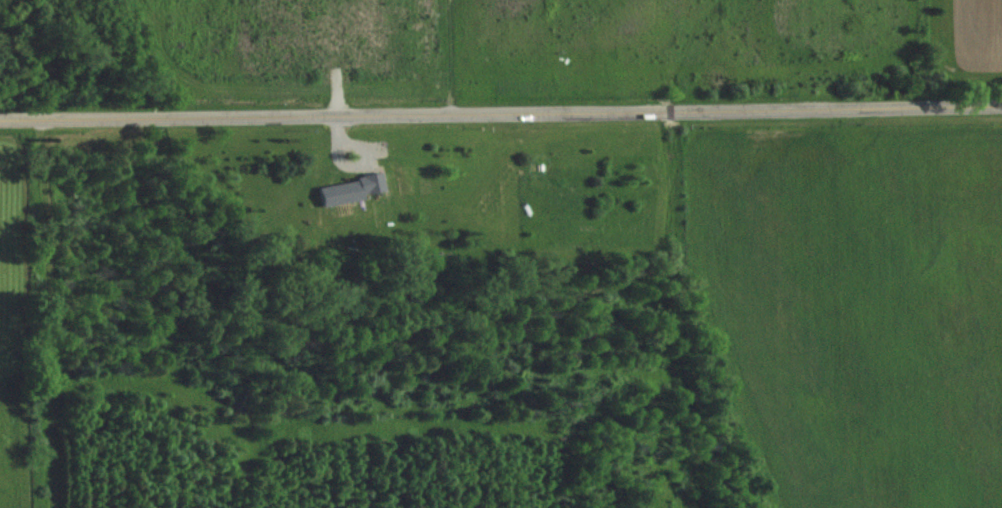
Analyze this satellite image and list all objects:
road: (501, 113)
building: (353, 188)

